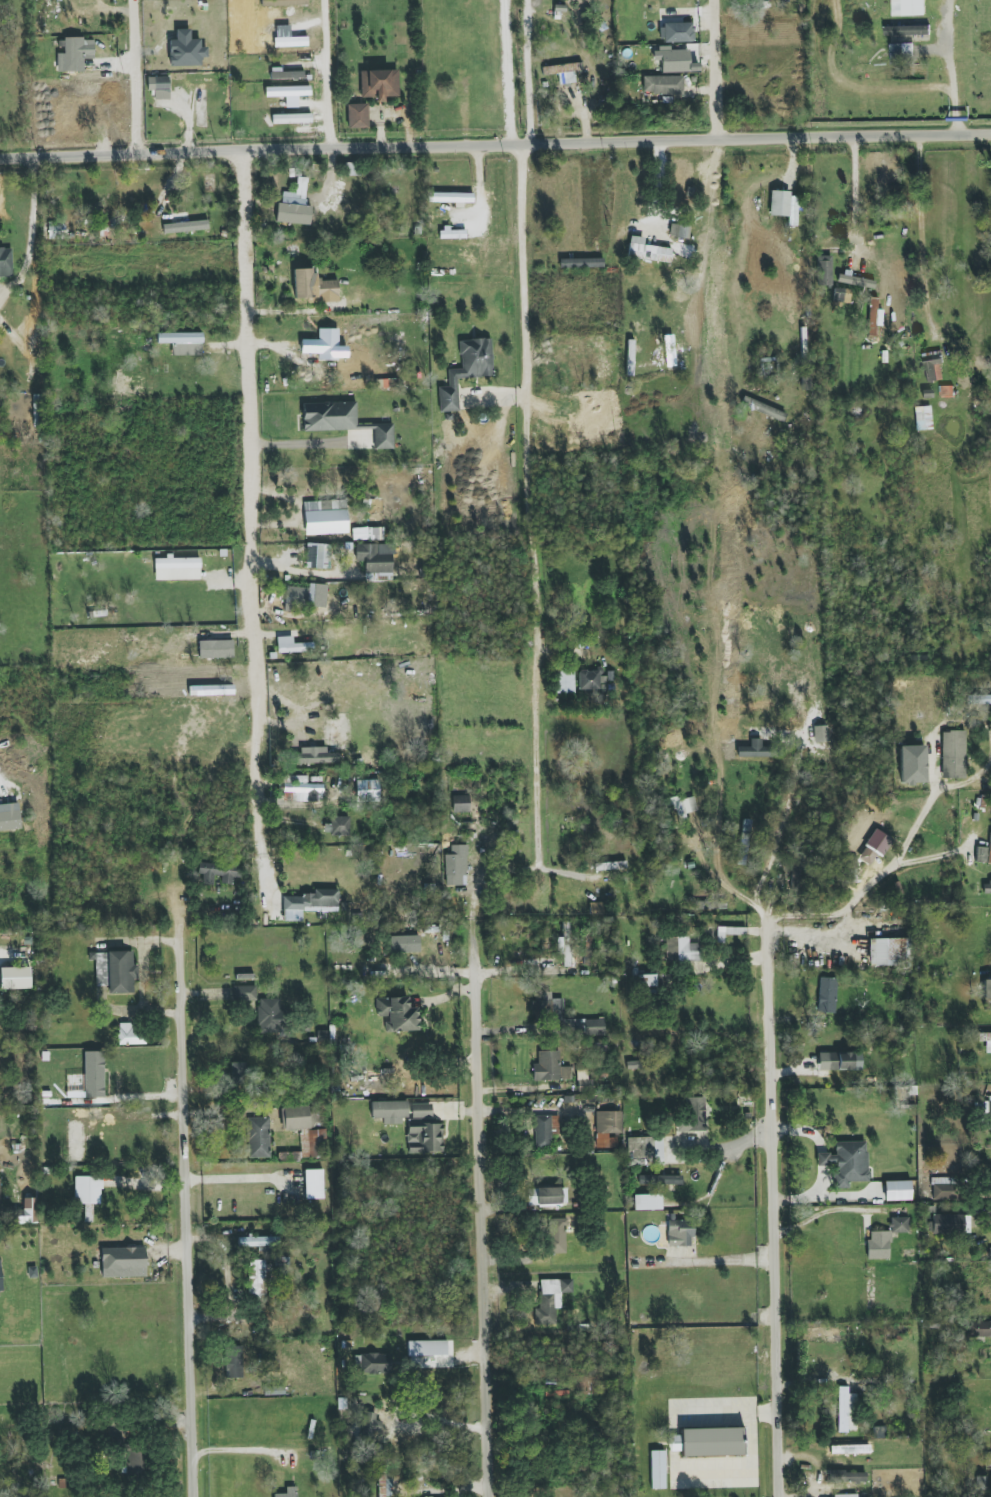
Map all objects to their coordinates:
building: (908, 7)
building: (907, 30)
building: (677, 32)
building: (186, 50)
building: (902, 53)
building: (73, 54)
building: (672, 60)
road: (950, 66)
road: (717, 69)
road: (528, 71)
road: (507, 72)
building: (563, 72)
road: (325, 73)
building: (285, 74)
road: (136, 76)
building: (379, 84)
building: (663, 85)
building: (159, 86)
building: (287, 91)
building: (357, 116)
building: (291, 119)
road: (495, 145)
road: (657, 183)
building: (679, 183)
road: (854, 194)
building: (450, 197)
building: (779, 203)
building: (294, 206)
road: (707, 214)
building: (185, 227)
building: (57, 230)
building: (679, 230)
road: (30, 232)
building: (453, 233)
road: (921, 235)
building: (649, 253)
building: (5, 263)
building: (581, 263)
building: (824, 271)
building: (856, 281)
building: (314, 287)
building: (872, 316)
building: (697, 331)
building: (183, 343)
building: (325, 346)
building: (33, 347)
building: (932, 366)
building: (466, 370)
building: (698, 371)
building: (329, 416)
building: (923, 418)
building: (383, 436)
road: (530, 504)
road: (250, 515)
building: (326, 522)
building: (367, 534)
building: (318, 556)
building: (375, 557)
building: (177, 569)
building: (313, 595)
building: (296, 597)
building: (292, 646)
building: (215, 649)
building: (589, 679)
building: (563, 682)
building: (983, 699)
building: (338, 732)
building: (753, 750)
building: (953, 755)
building: (314, 756)
building: (300, 789)
building: (367, 790)
road: (931, 794)
building: (460, 804)
building: (681, 810)
building: (9, 820)
road: (781, 825)
building: (337, 826)
building: (744, 842)
building: (878, 842)
building: (984, 853)
road: (928, 857)
building: (456, 866)
building: (604, 866)
building: (219, 873)
building: (796, 875)
road: (722, 884)
building: (310, 904)
building: (711, 906)
building: (729, 933)
building: (563, 949)
building: (681, 950)
building: (887, 951)
building: (116, 972)
building: (15, 978)
building: (644, 981)
building: (986, 988)
building: (244, 993)
building: (827, 995)
building: (548, 1008)
building: (397, 1014)
building: (270, 1016)
building: (589, 1027)
building: (131, 1034)
building: (985, 1040)
building: (839, 1061)
building: (550, 1067)
building: (389, 1109)
building: (421, 1111)
building: (989, 1112)
building: (693, 1116)
road: (133, 1117)
building: (299, 1117)
building: (608, 1128)
building: (545, 1130)
building: (258, 1137)
building: (424, 1139)
building: (309, 1146)
road: (726, 1150)
building: (645, 1151)
building: (846, 1163)
building: (660, 1180)
building: (313, 1184)
building: (944, 1188)
building: (87, 1190)
building: (897, 1191)
building: (546, 1196)
building: (647, 1202)
road: (775, 1208)
road: (482, 1211)
building: (26, 1212)
building: (88, 1213)
road: (190, 1214)
building: (947, 1224)
building: (899, 1225)
building: (680, 1233)
building: (556, 1236)
building: (259, 1242)
building: (878, 1245)
road: (722, 1259)
building: (123, 1262)
building: (282, 1265)
building: (0, 1278)
building: (257, 1278)
building: (550, 1300)
building: (983, 1329)
building: (832, 1334)
building: (425, 1352)
building: (233, 1362)
building: (375, 1363)
building: (846, 1410)
road: (443, 1420)
building: (370, 1426)
building: (709, 1442)
road: (243, 1450)
building: (134, 1462)
building: (657, 1470)
building: (847, 1477)
building: (384, 1485)
building: (288, 1492)
building: (845, 1495)

